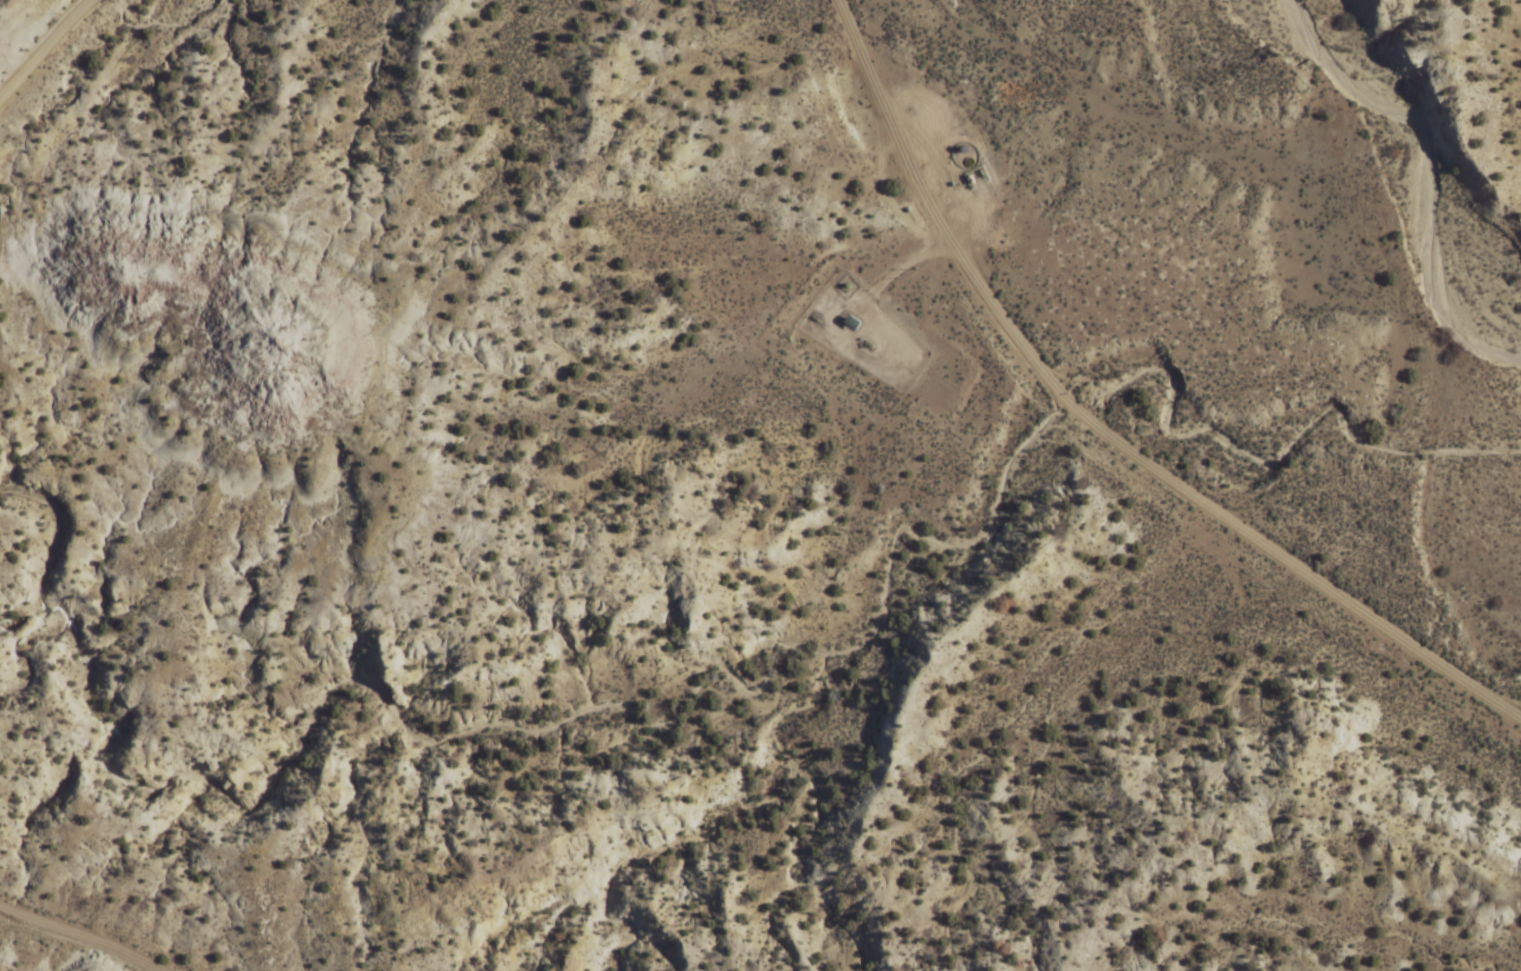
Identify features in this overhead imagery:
road: (40, 42)
river: (1445, 229)
road: (822, 319)
road: (1093, 434)
road: (75, 938)

